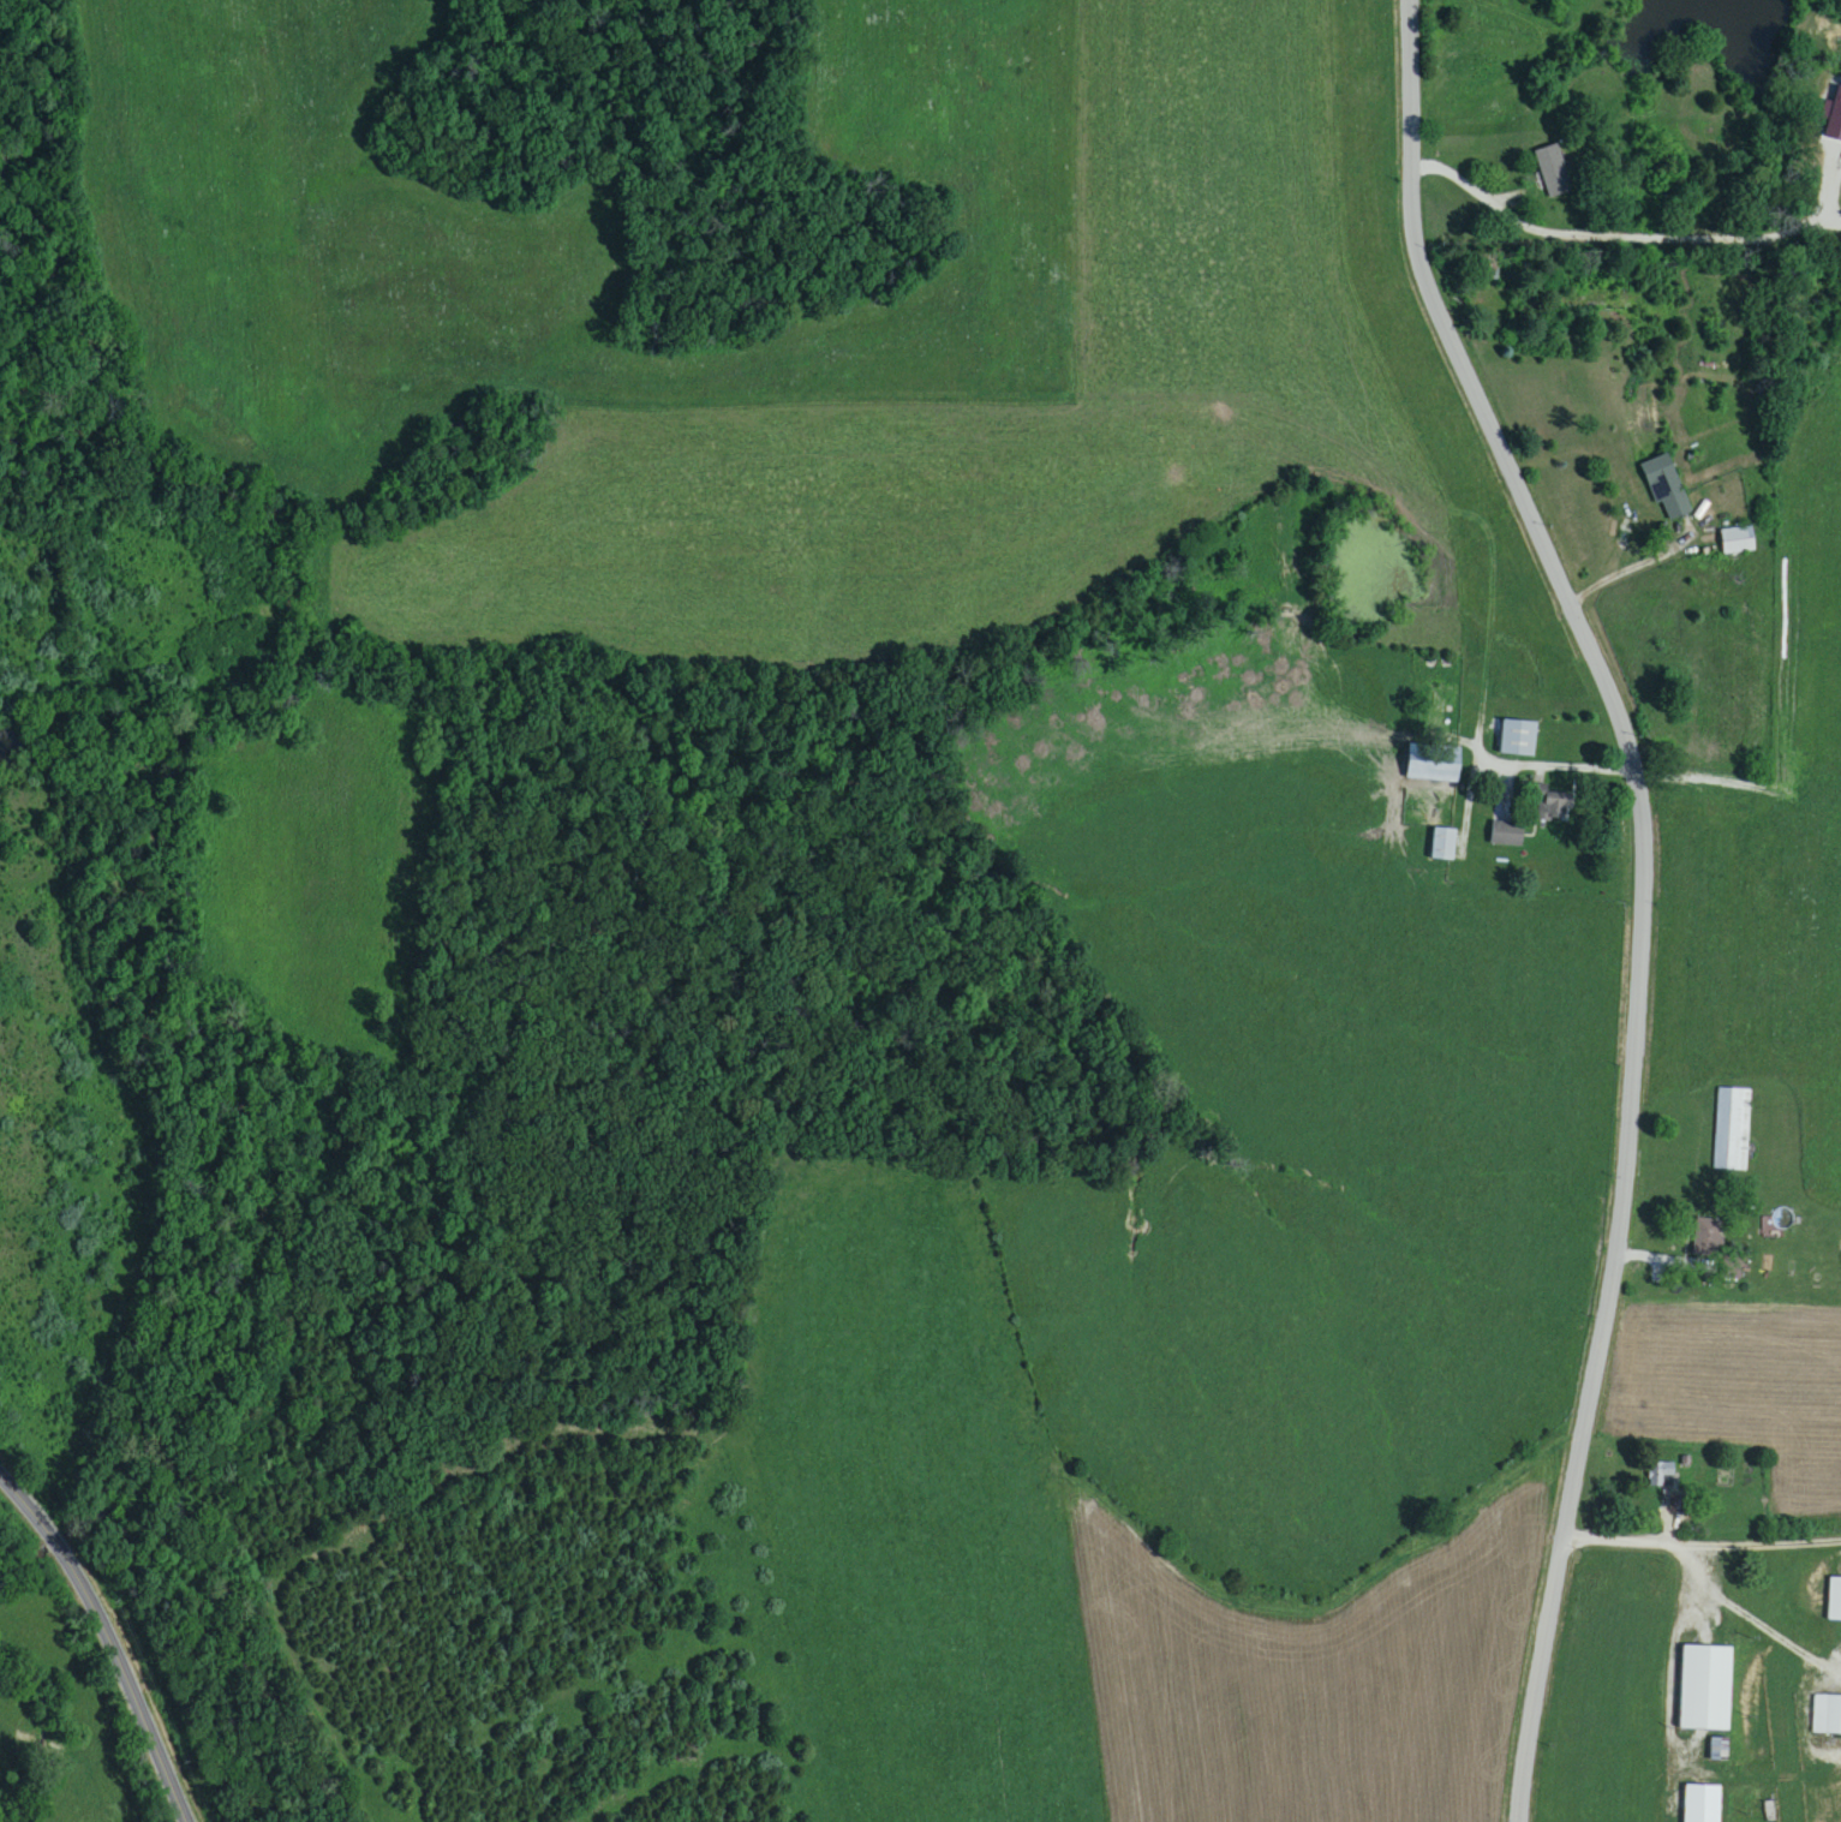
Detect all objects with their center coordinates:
building: (1834, 117)
road: (1471, 190)
road: (1161, 404)
building: (1666, 489)
building: (1738, 542)
road: (1634, 569)
building: (1518, 740)
building: (1433, 764)
road: (1560, 766)
building: (1507, 835)
building: (1443, 846)
road: (1644, 892)
building: (1732, 1130)
road: (978, 1235)
building: (1705, 1237)
building: (1662, 1475)
road: (1700, 1545)
building: (1835, 1601)
road: (1764, 1625)
road: (109, 1641)
road: (1670, 1656)
building: (1705, 1689)
building: (1827, 1715)
building: (1702, 1804)

